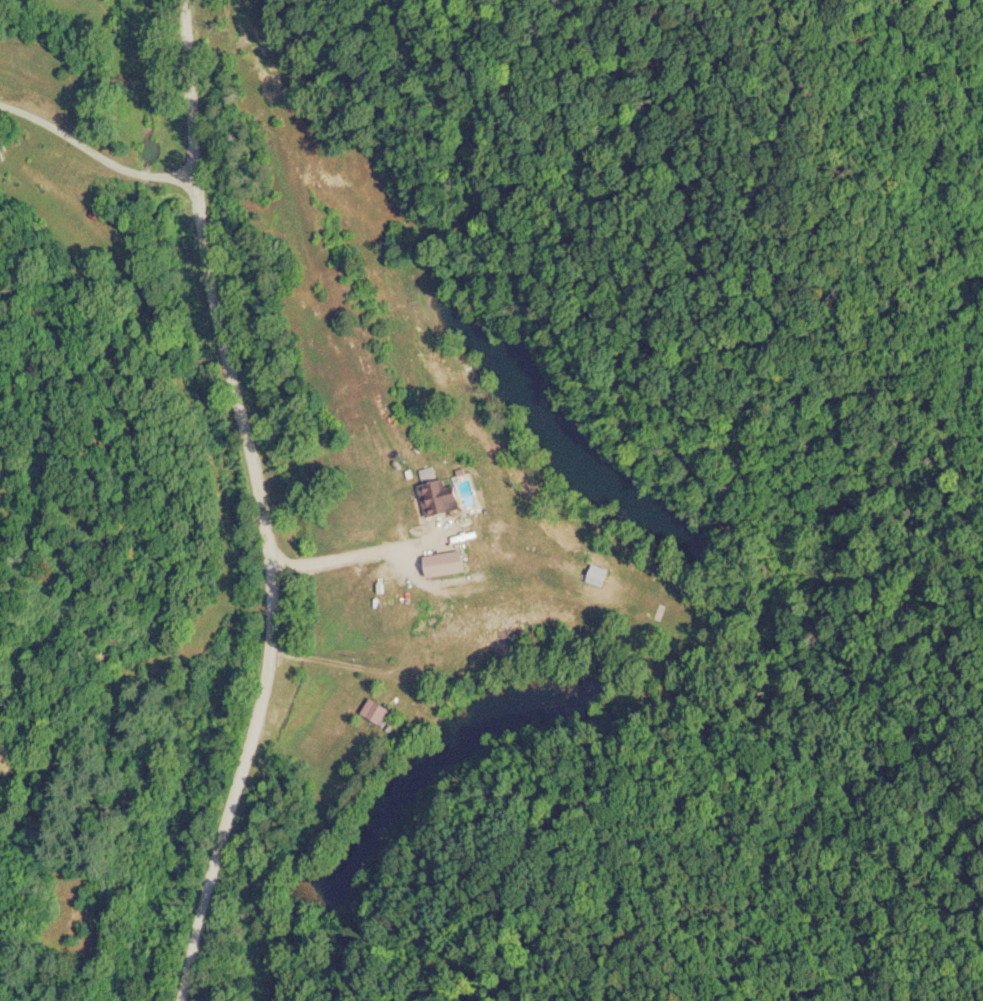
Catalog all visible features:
road: (100, 220)
building: (441, 496)
road: (256, 499)
building: (448, 560)
building: (598, 572)
building: (376, 708)

